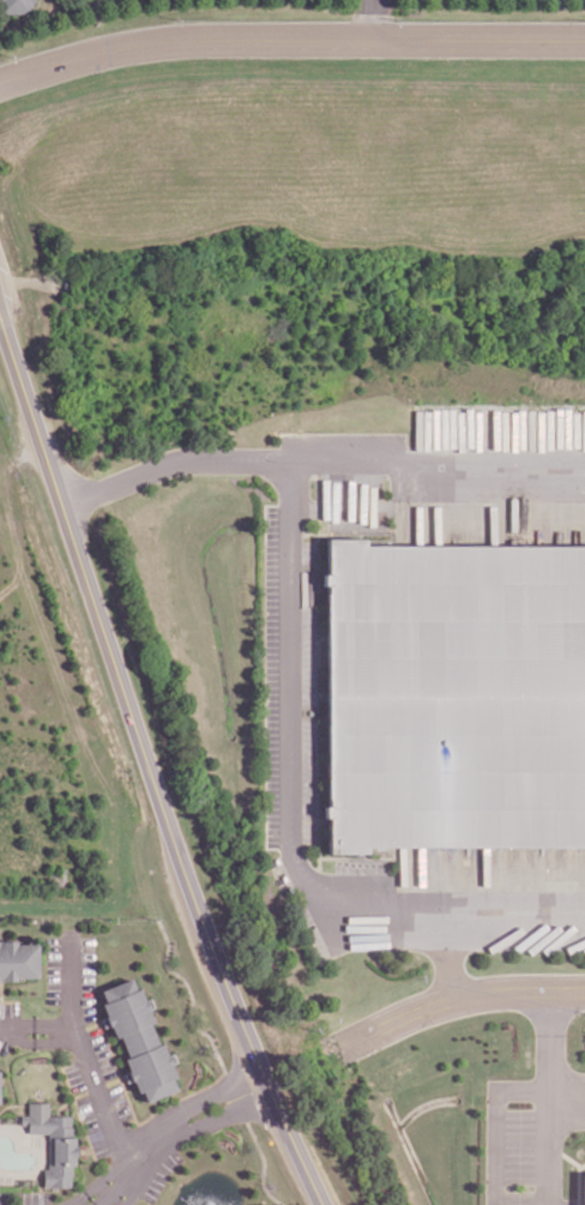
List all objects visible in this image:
building: (14, 6)
road: (372, 19)
road: (289, 37)
road: (436, 459)
road: (171, 460)
building: (459, 698)
road: (149, 763)
road: (287, 819)
street lamp: (153, 939)
building: (17, 958)
road: (450, 959)
parking lot: (54, 969)
parking lot: (86, 977)
road: (0, 992)
road: (459, 999)
road: (8, 1000)
parking lot: (8, 1008)
street lamp: (54, 1008)
road: (37, 1022)
road: (88, 1025)
building: (138, 1037)
road: (38, 1041)
parking lot: (4, 1044)
road: (83, 1052)
parking lot: (102, 1052)
parking lot: (74, 1074)
road: (211, 1082)
road: (96, 1086)
road: (211, 1095)
road: (550, 1097)
road: (567, 1099)
parking lot: (120, 1101)
road: (32, 1103)
road: (19, 1108)
road: (78, 1111)
road: (219, 1116)
road: (495, 1119)
parking lot: (92, 1125)
building: (53, 1141)
parking lot: (519, 1145)
road: (86, 1150)
street lamp: (105, 1158)
road: (127, 1169)
parking lot: (161, 1174)
building: (584, 1188)
road: (40, 1189)
parking lot: (31, 1197)
parking lot: (4, 1198)
parking lot: (519, 1198)
fountain: (210, 1204)

